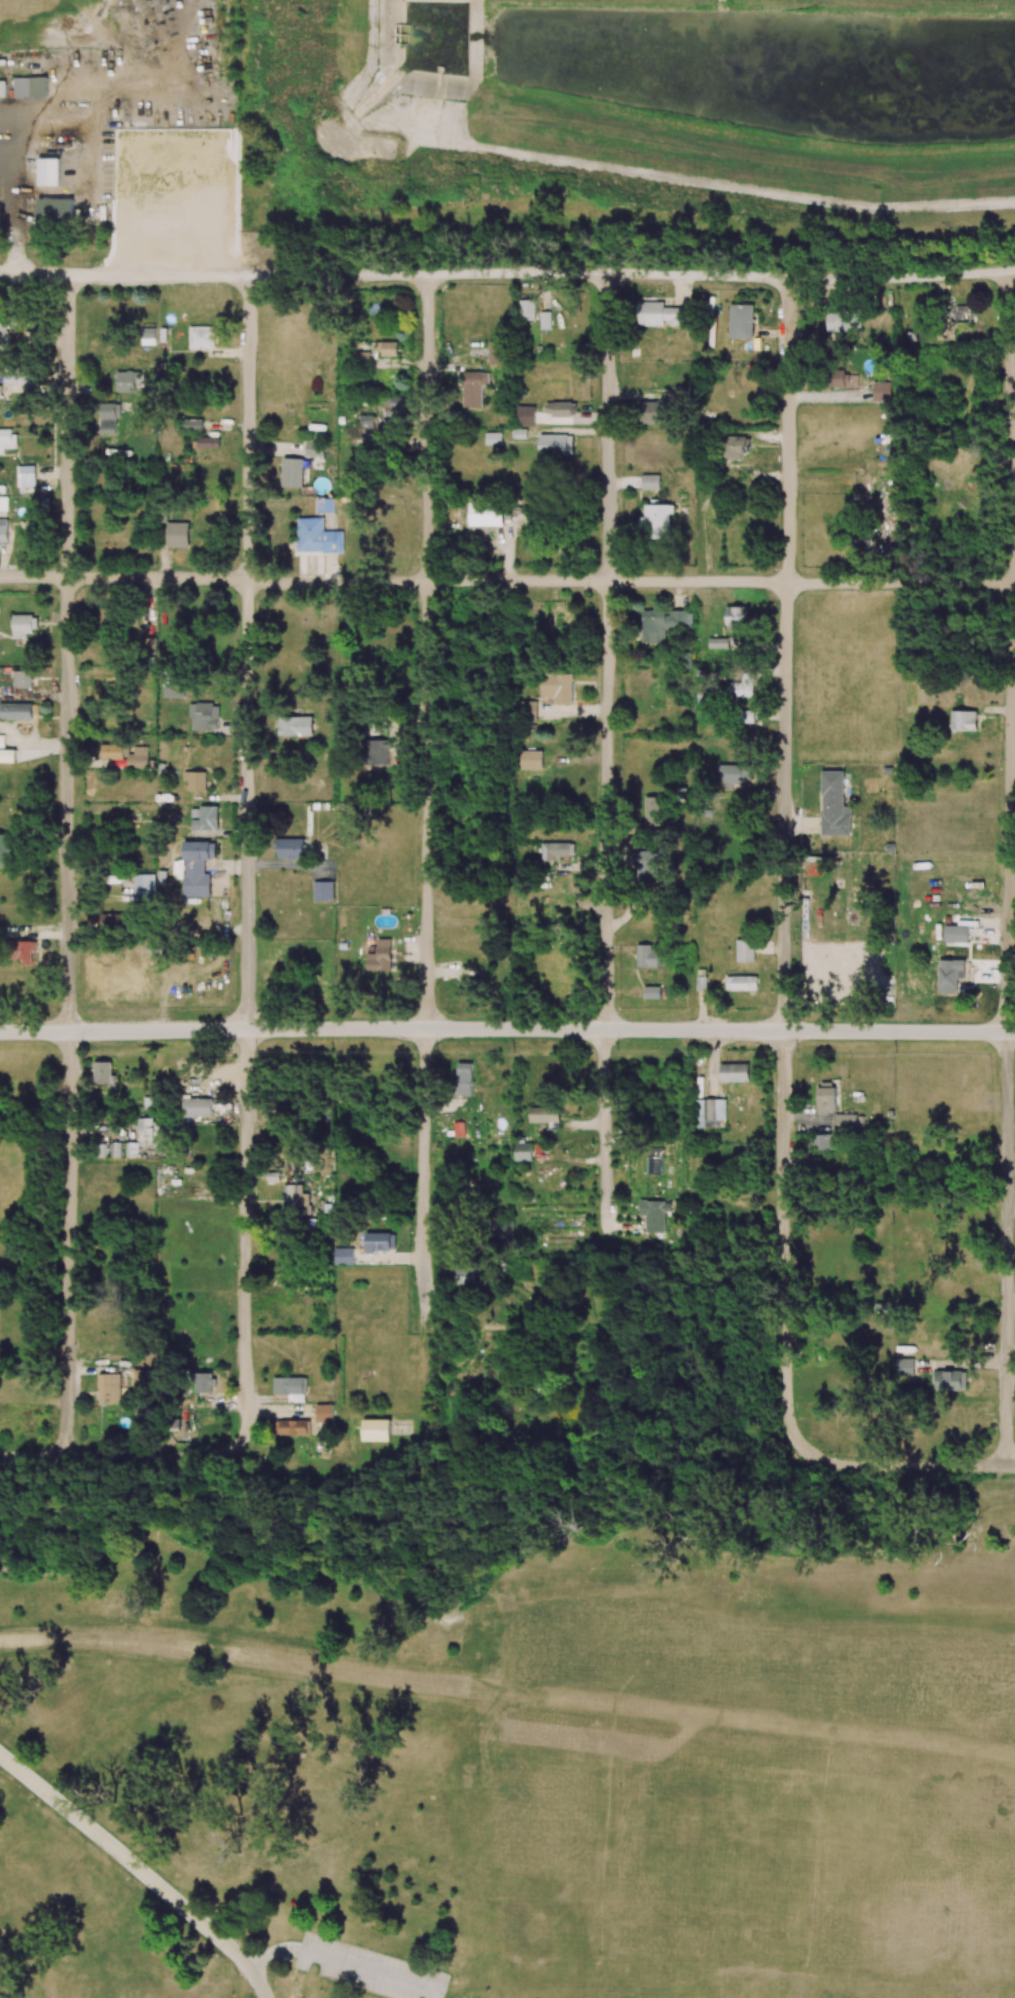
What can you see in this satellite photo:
building: (30, 86)
building: (3, 88)
building: (48, 172)
building: (0, 212)
building: (55, 212)
road: (507, 272)
building: (527, 310)
building: (659, 314)
building: (952, 319)
building: (17, 320)
building: (545, 320)
building: (741, 321)
building: (844, 321)
building: (4, 336)
building: (147, 336)
building: (201, 337)
building: (387, 348)
building: (497, 352)
building: (360, 357)
building: (19, 377)
building: (840, 377)
building: (127, 381)
building: (474, 388)
building: (0, 391)
building: (882, 391)
building: (684, 396)
building: (394, 406)
building: (560, 409)
building: (654, 412)
building: (525, 414)
building: (108, 417)
building: (192, 424)
building: (365, 424)
building: (493, 438)
building: (7, 439)
building: (208, 442)
building: (555, 445)
building: (736, 446)
building: (314, 449)
building: (292, 472)
building: (26, 476)
building: (650, 482)
building: (3, 503)
building: (325, 505)
building: (485, 514)
building: (656, 521)
building: (177, 534)
building: (317, 536)
building: (862, 538)
street lamp: (258, 570)
road: (507, 581)
building: (108, 615)
building: (737, 615)
building: (664, 624)
building: (24, 625)
building: (717, 643)
building: (23, 679)
building: (110, 680)
building: (173, 684)
building: (557, 687)
building: (741, 688)
building: (527, 710)
building: (16, 711)
building: (204, 716)
building: (963, 720)
building: (295, 726)
building: (1, 741)
building: (125, 754)
building: (7, 755)
building: (531, 759)
building: (732, 774)
building: (196, 780)
building: (834, 805)
building: (652, 811)
building: (206, 818)
building: (291, 848)
building: (5, 849)
building: (556, 850)
road: (426, 860)
road: (605, 862)
road: (246, 864)
building: (648, 865)
road: (66, 866)
building: (197, 868)
road: (784, 869)
road: (1009, 869)
building: (144, 889)
building: (324, 891)
building: (114, 920)
building: (956, 934)
building: (24, 951)
building: (744, 951)
building: (380, 956)
building: (646, 956)
building: (950, 975)
building: (741, 983)
building: (470, 985)
building: (651, 992)
road: (507, 1029)
street lamp: (82, 1051)
street lamp: (256, 1052)
street lamp: (436, 1052)
street lamp: (796, 1052)
street lamp: (617, 1053)
building: (103, 1071)
building: (734, 1072)
building: (464, 1079)
building: (826, 1098)
building: (196, 1107)
building: (710, 1111)
building: (545, 1117)
building: (849, 1123)
building: (152, 1131)
building: (823, 1142)
street lamp: (592, 1143)
building: (131, 1149)
building: (523, 1151)
building: (296, 1198)
building: (653, 1214)
building: (380, 1241)
building: (343, 1256)
building: (464, 1276)
building: (904, 1366)
building: (143, 1376)
building: (950, 1380)
building: (203, 1382)
building: (290, 1386)
building: (109, 1388)
building: (324, 1413)
building: (292, 1427)
building: (376, 1430)
road: (511, 1447)
road: (117, 1457)
road: (861, 1468)
park: (505, 1772)
road: (138, 1870)
parking lot: (358, 1966)

